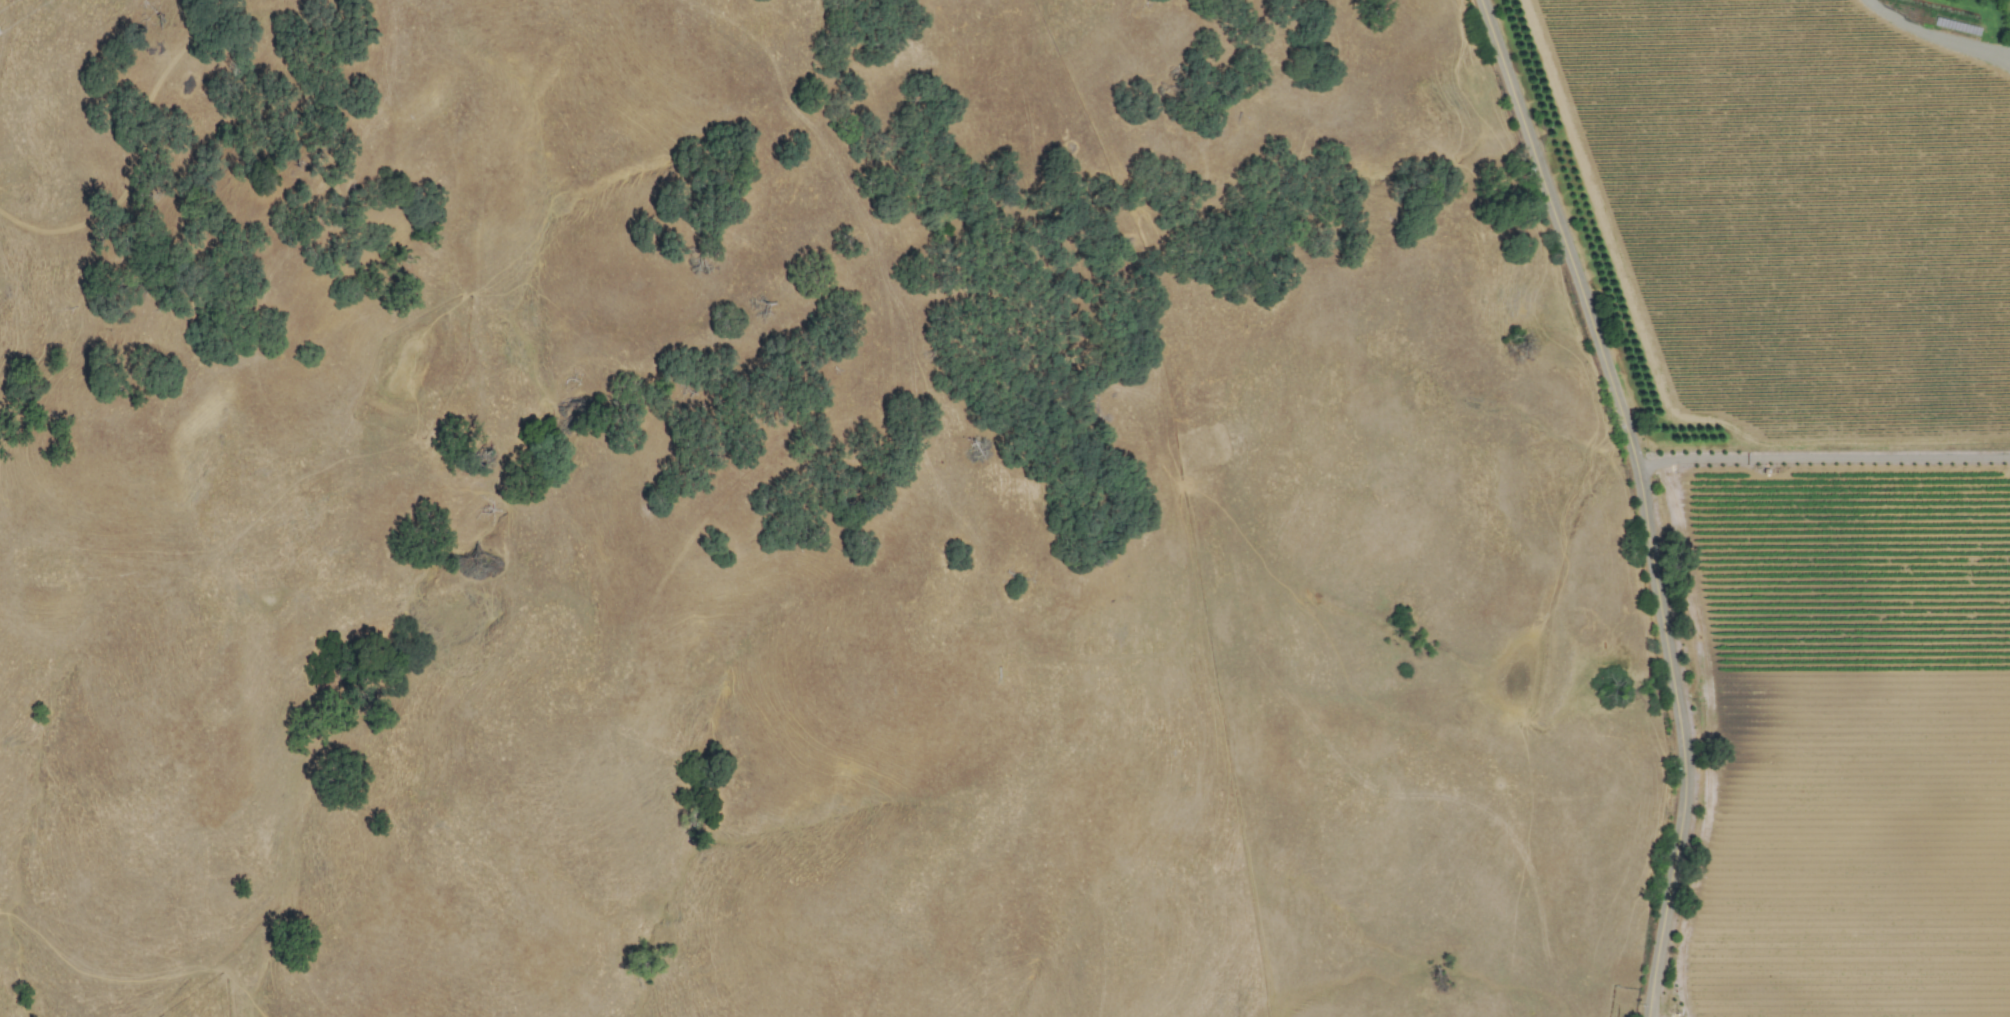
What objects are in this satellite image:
road: (1935, 41)
road: (1825, 461)
road: (1645, 498)

